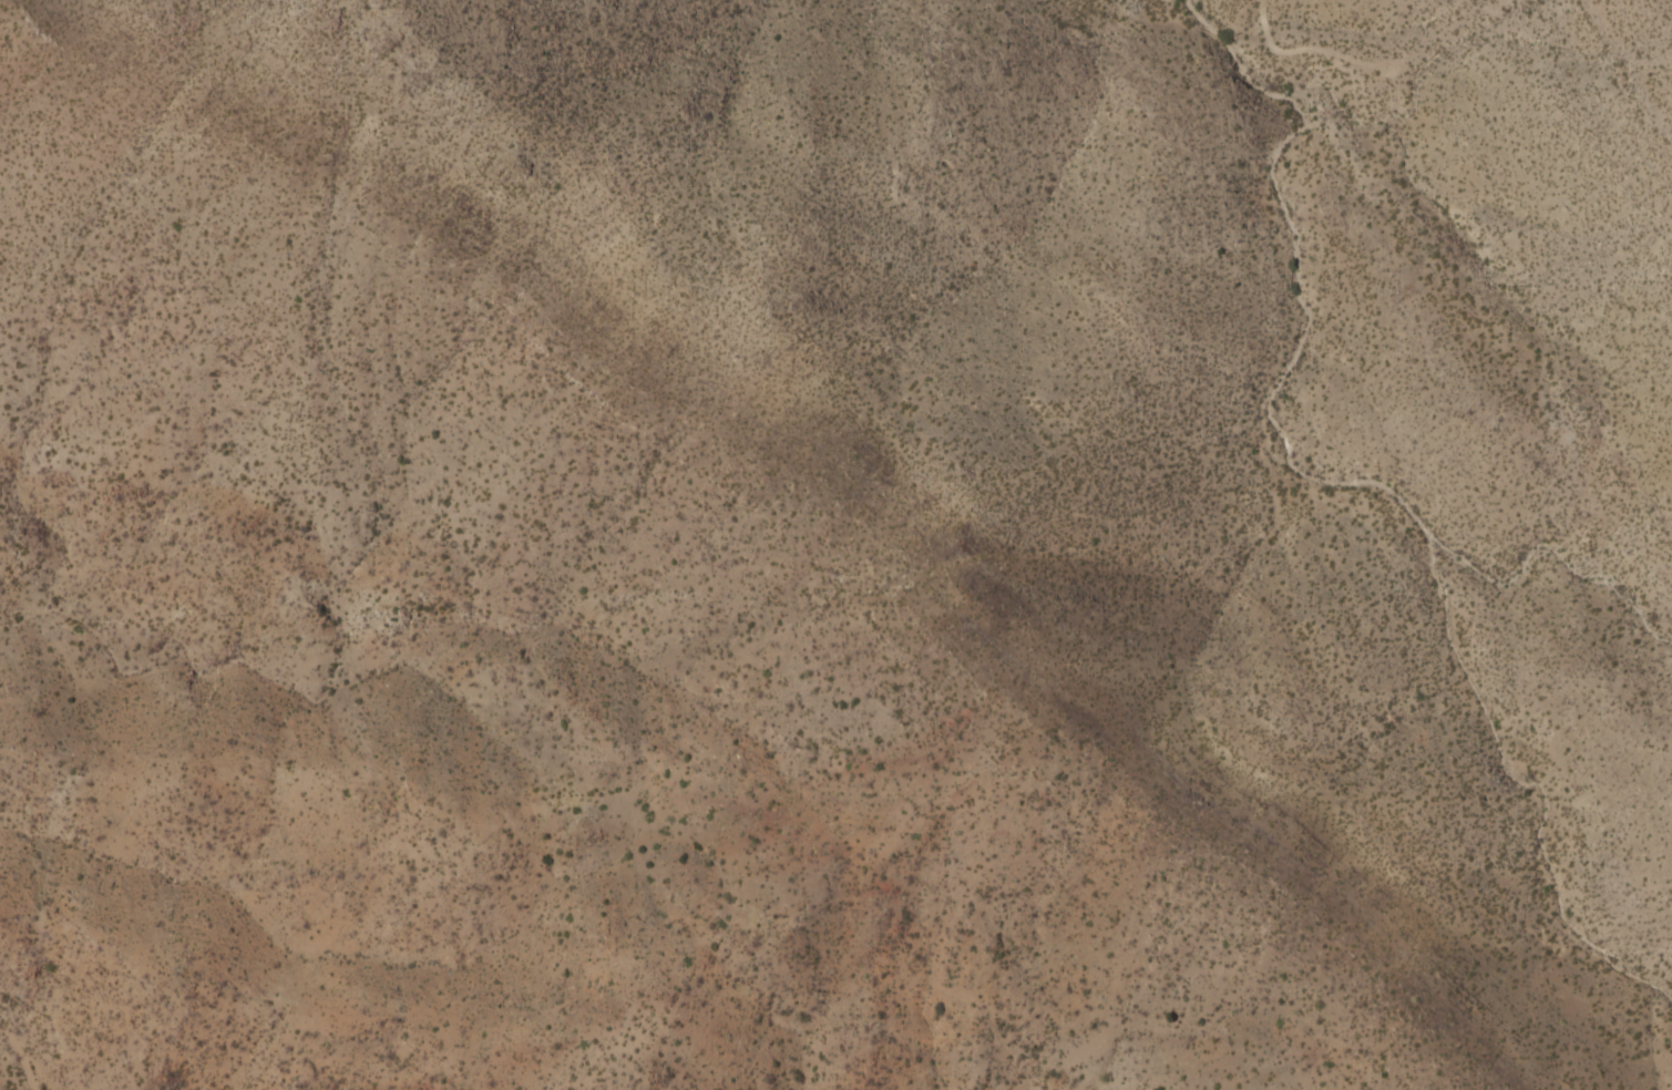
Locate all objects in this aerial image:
road: (1304, 49)

